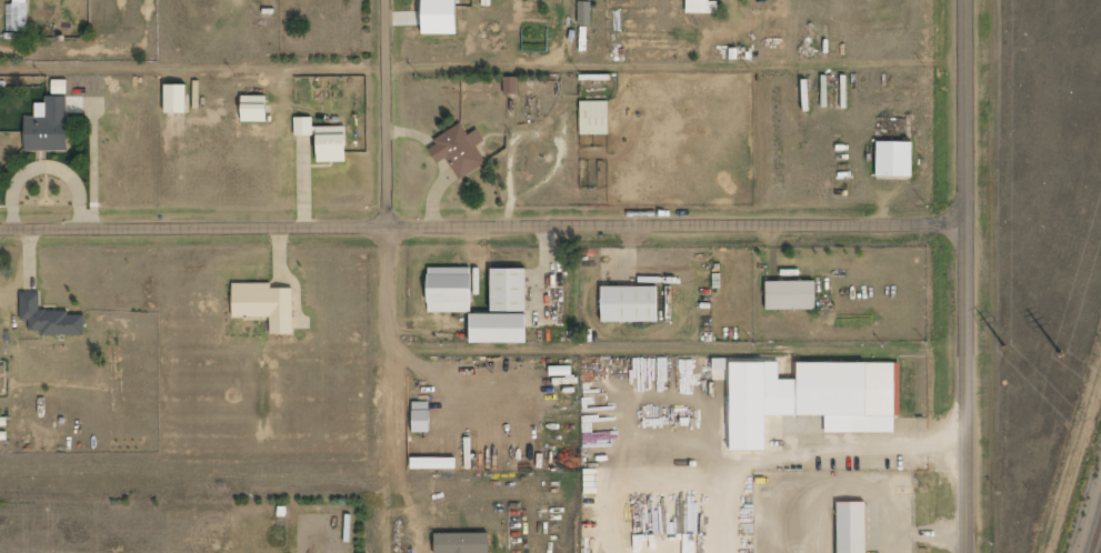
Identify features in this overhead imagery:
building: (53, 0)
building: (701, 7)
building: (585, 14)
building: (439, 17)
building: (17, 18)
building: (510, 86)
building: (176, 99)
building: (254, 109)
road: (390, 114)
building: (593, 118)
building: (48, 129)
building: (323, 139)
building: (459, 152)
building: (894, 161)
road: (482, 229)
road: (965, 276)
building: (449, 292)
building: (508, 292)
building: (791, 295)
building: (630, 304)
building: (266, 305)
building: (49, 318)
building: (498, 330)
power tower: (1007, 350)
power tower: (1061, 355)
building: (851, 394)
building: (851, 529)
railway: (1097, 539)

